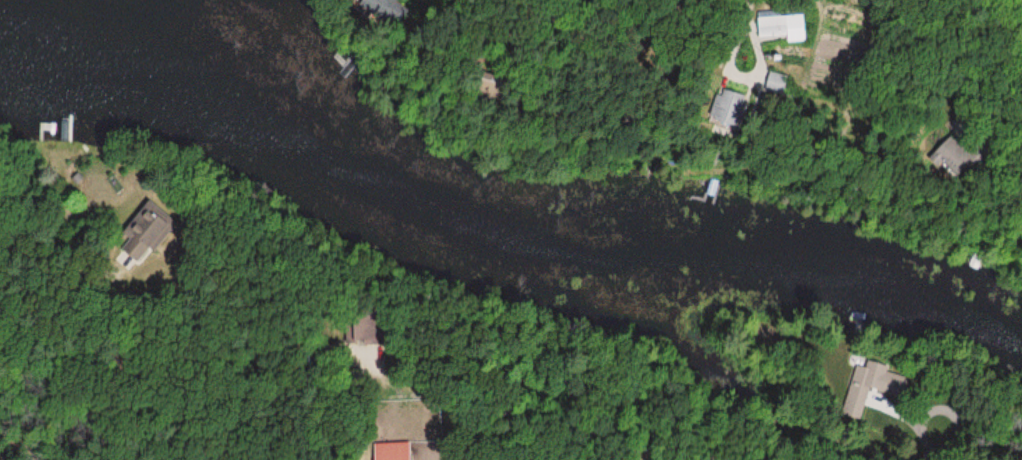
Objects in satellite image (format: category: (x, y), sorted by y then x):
building: (378, 0)
building: (781, 27)
building: (722, 106)
building: (950, 156)
building: (357, 330)
road: (368, 374)
building: (870, 385)
building: (390, 451)

